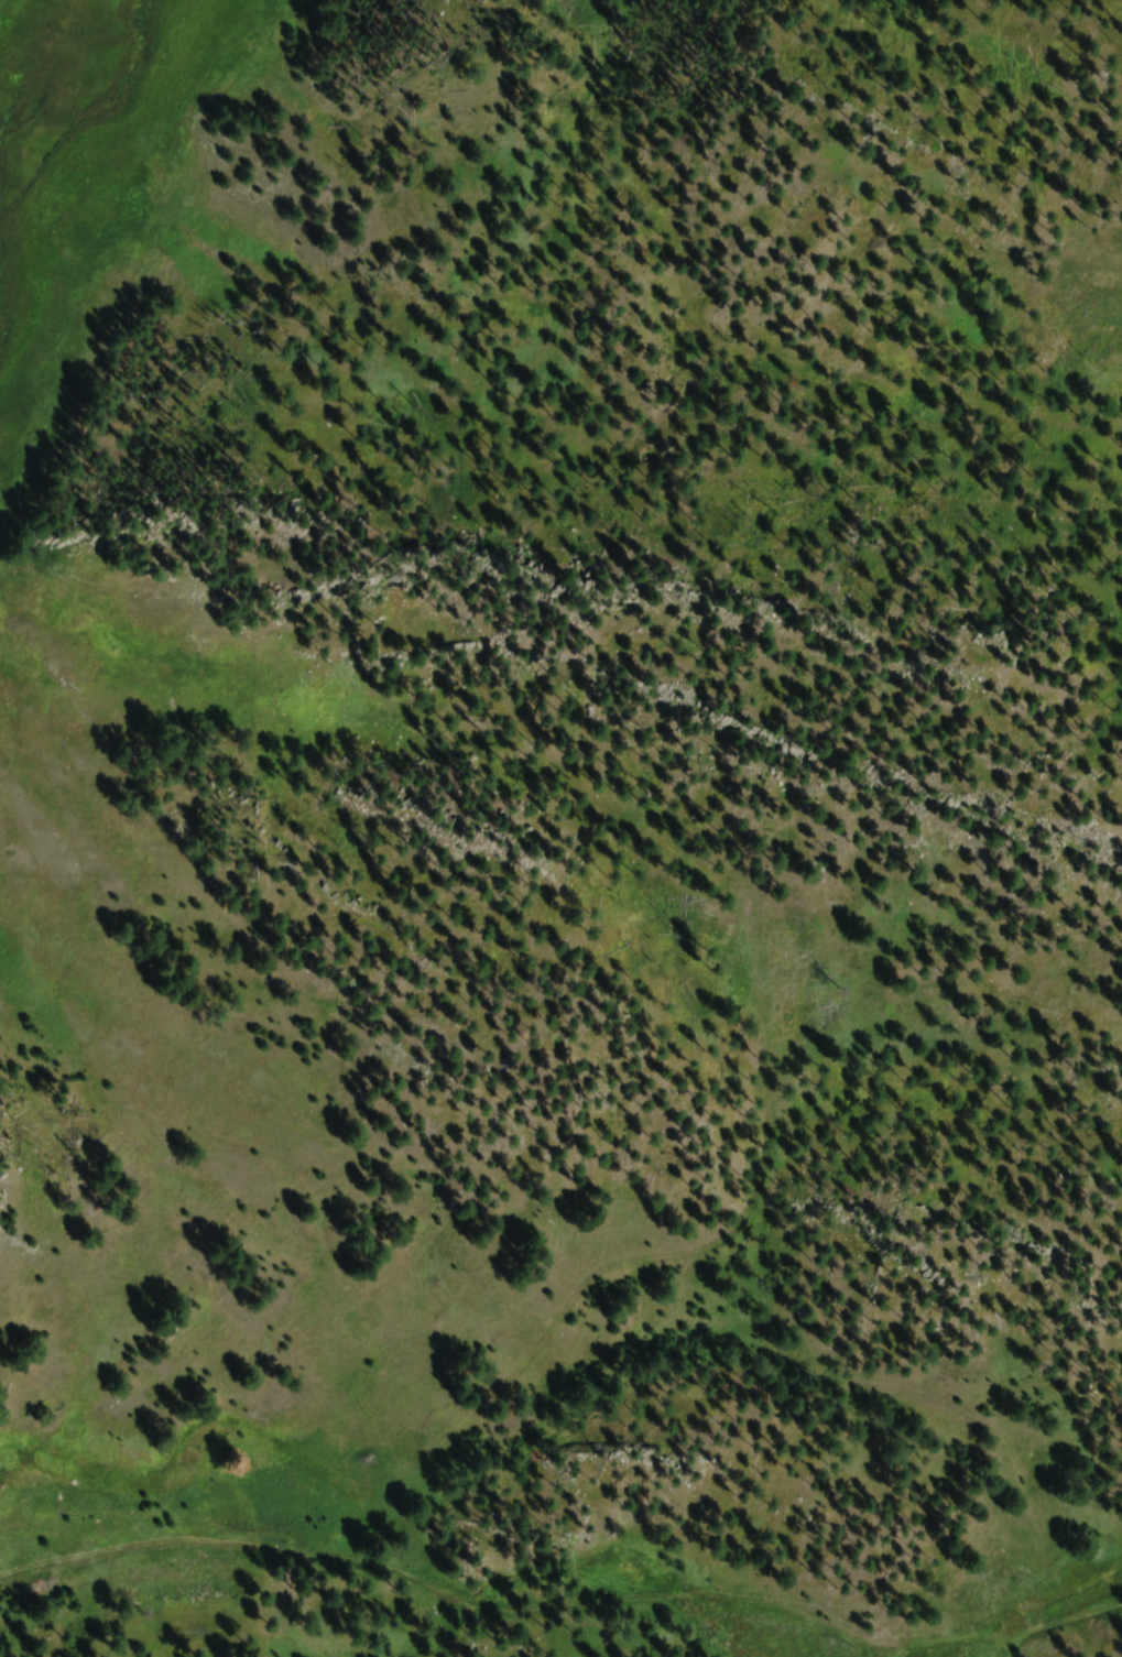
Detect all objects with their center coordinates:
road: (672, 1591)

